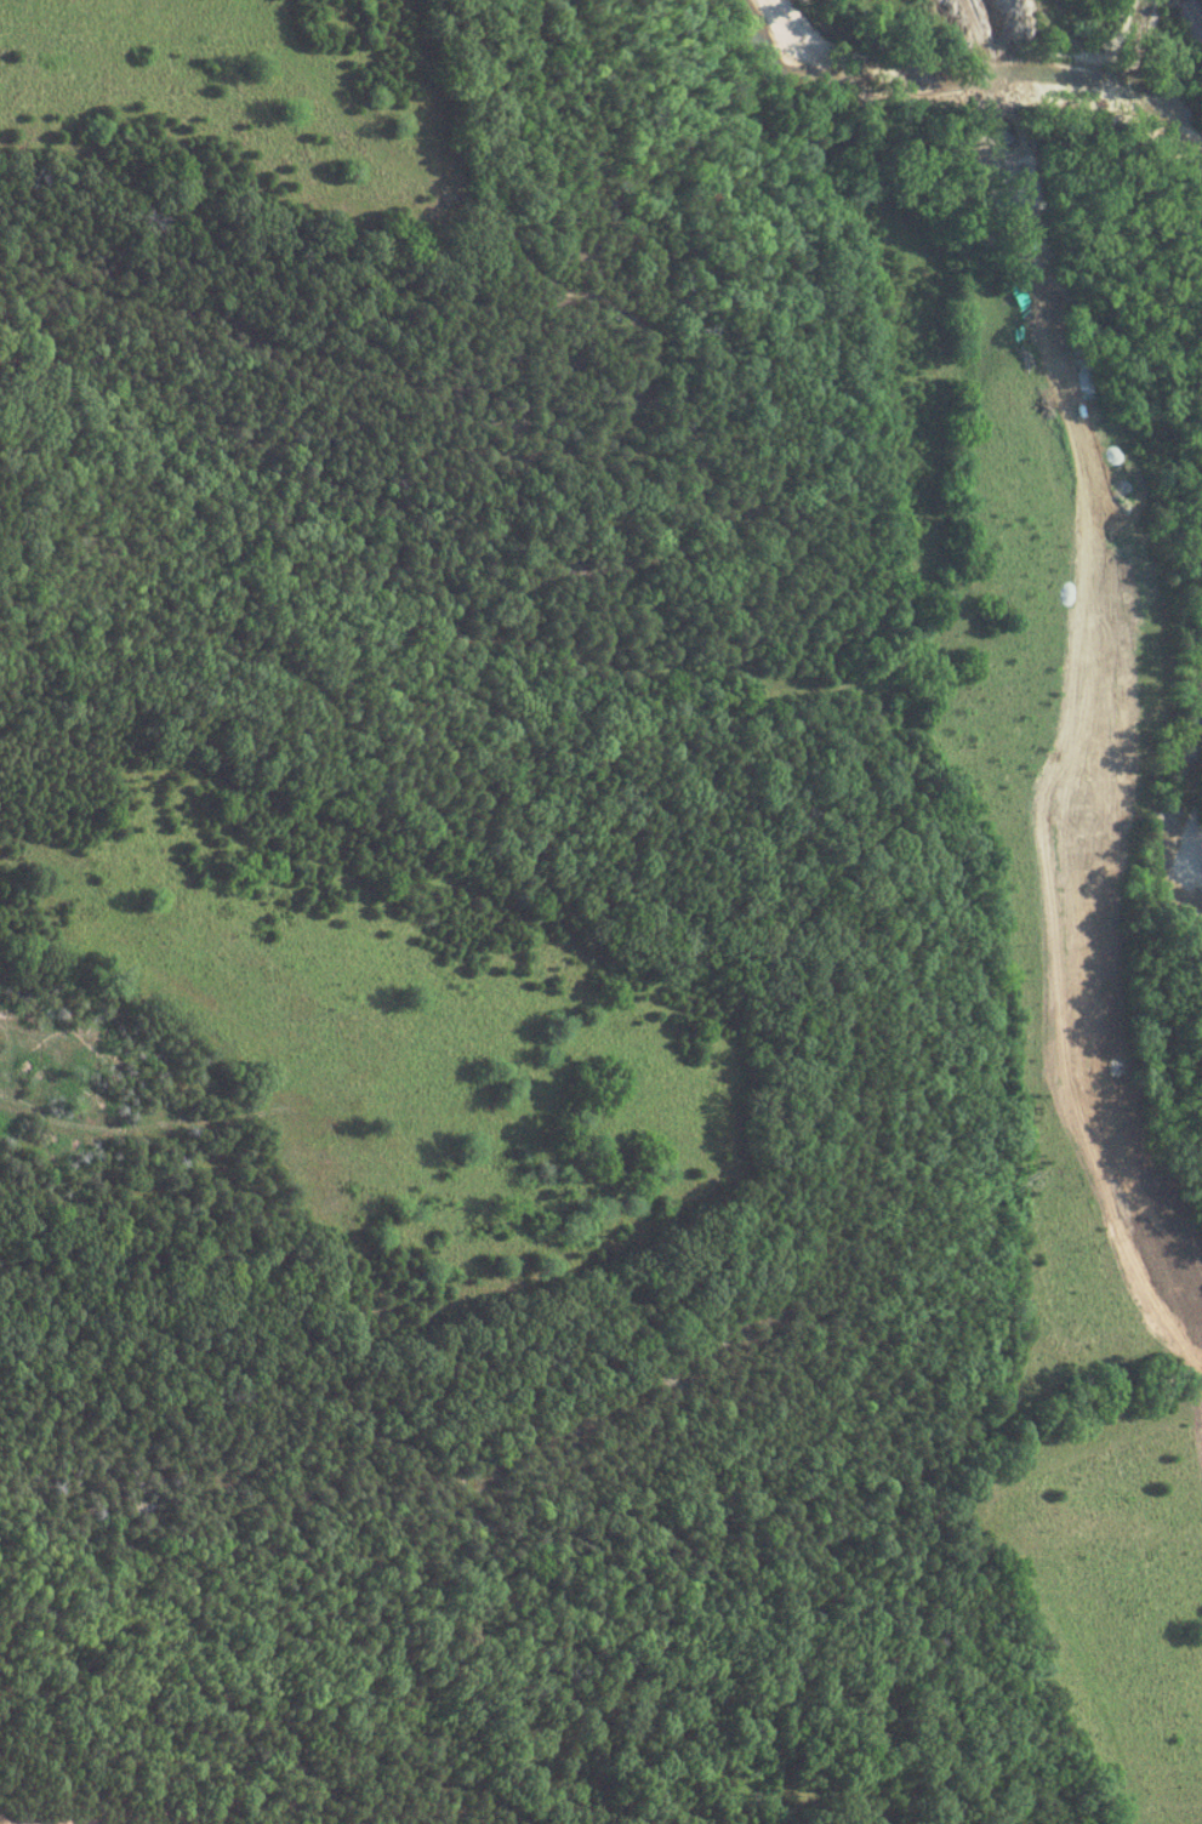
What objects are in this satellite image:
railway: (1194, 13)

